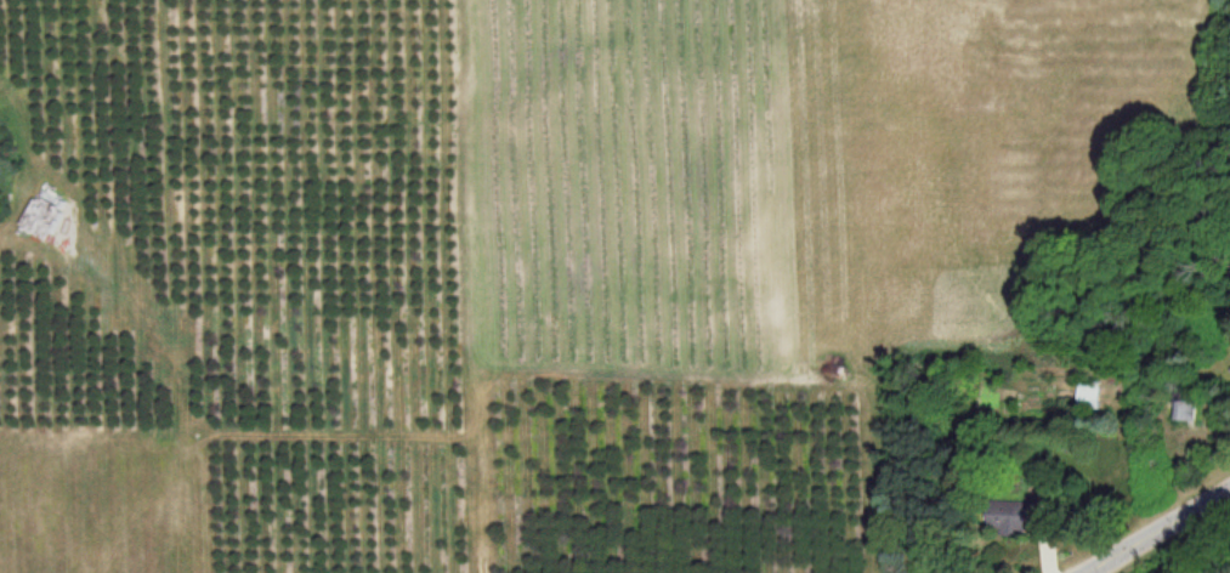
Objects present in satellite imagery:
building: (1226, 371)
building: (1089, 398)
building: (1184, 412)
road: (1158, 531)

